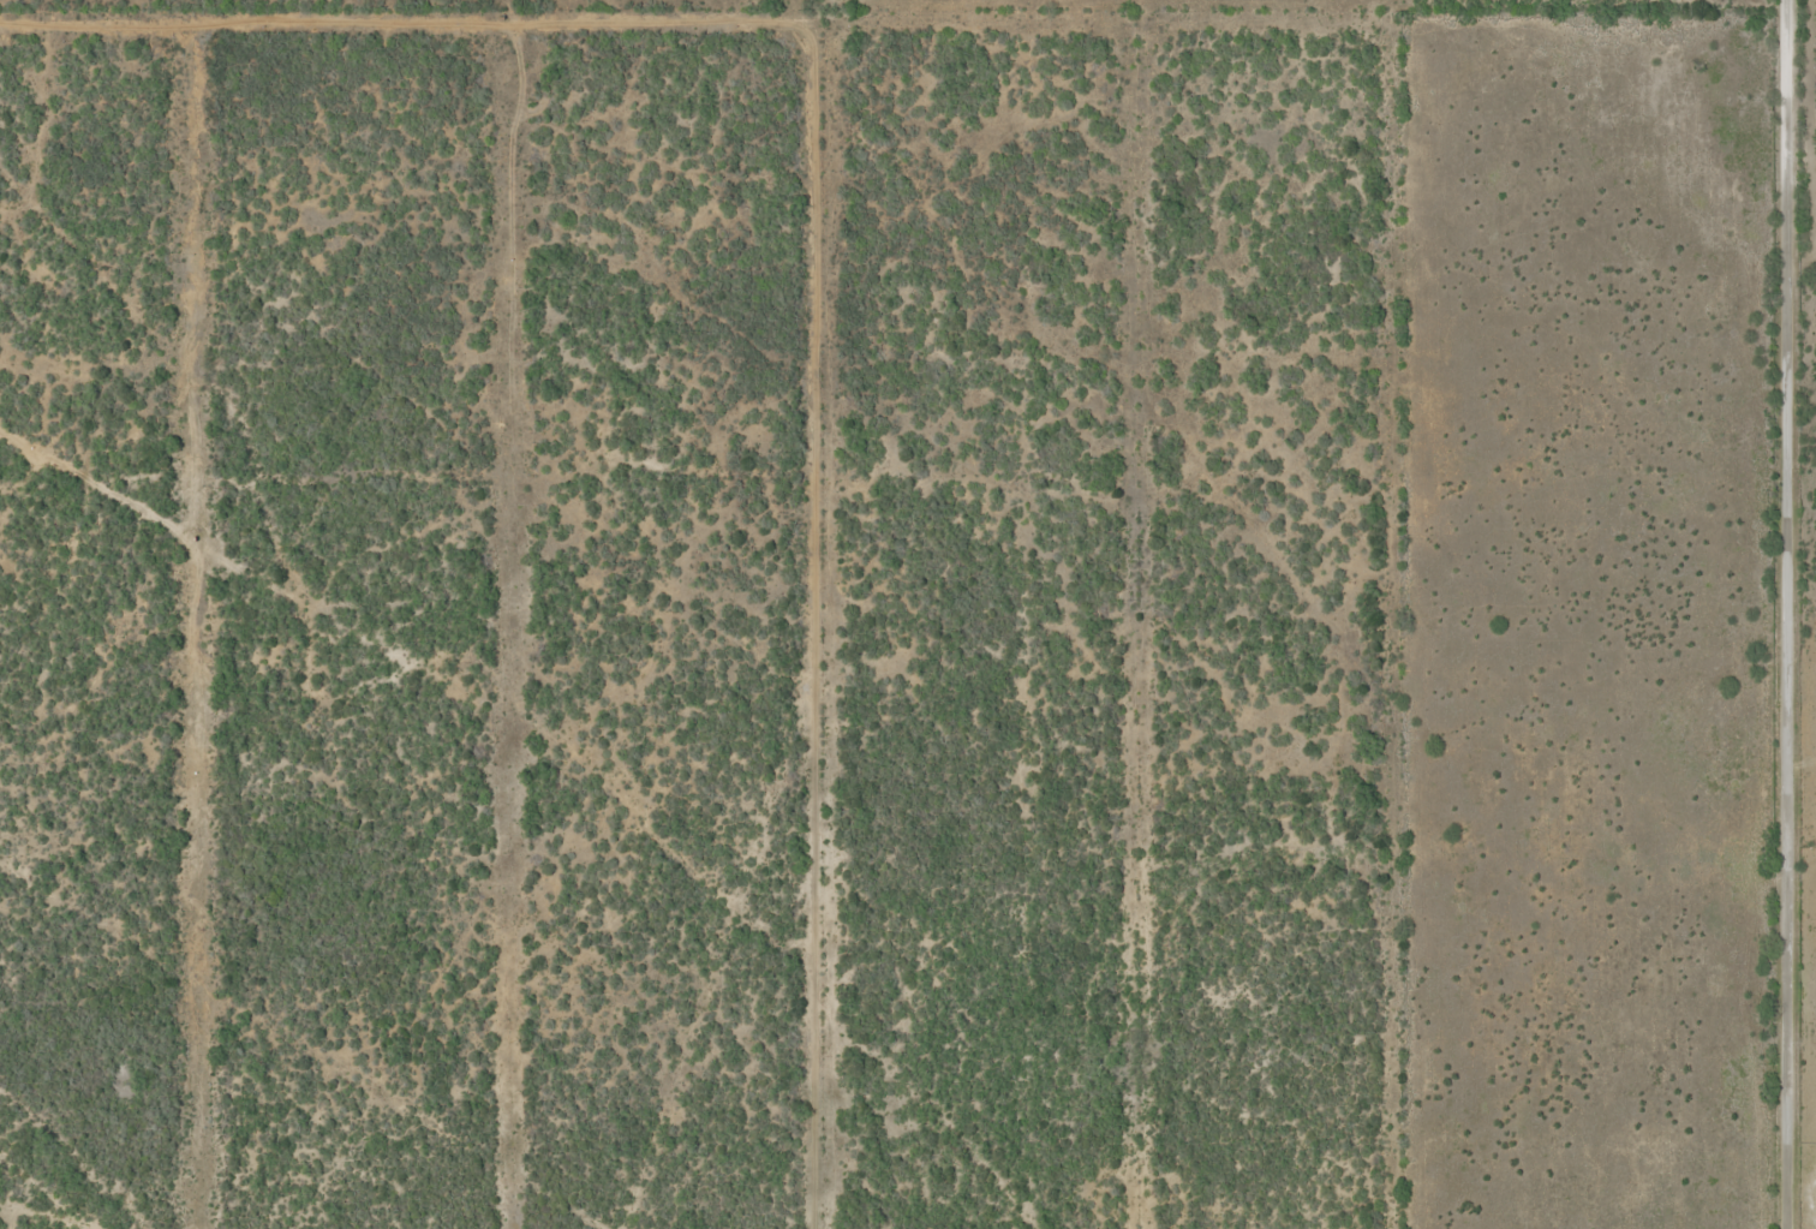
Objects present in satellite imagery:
road: (1761, 614)

